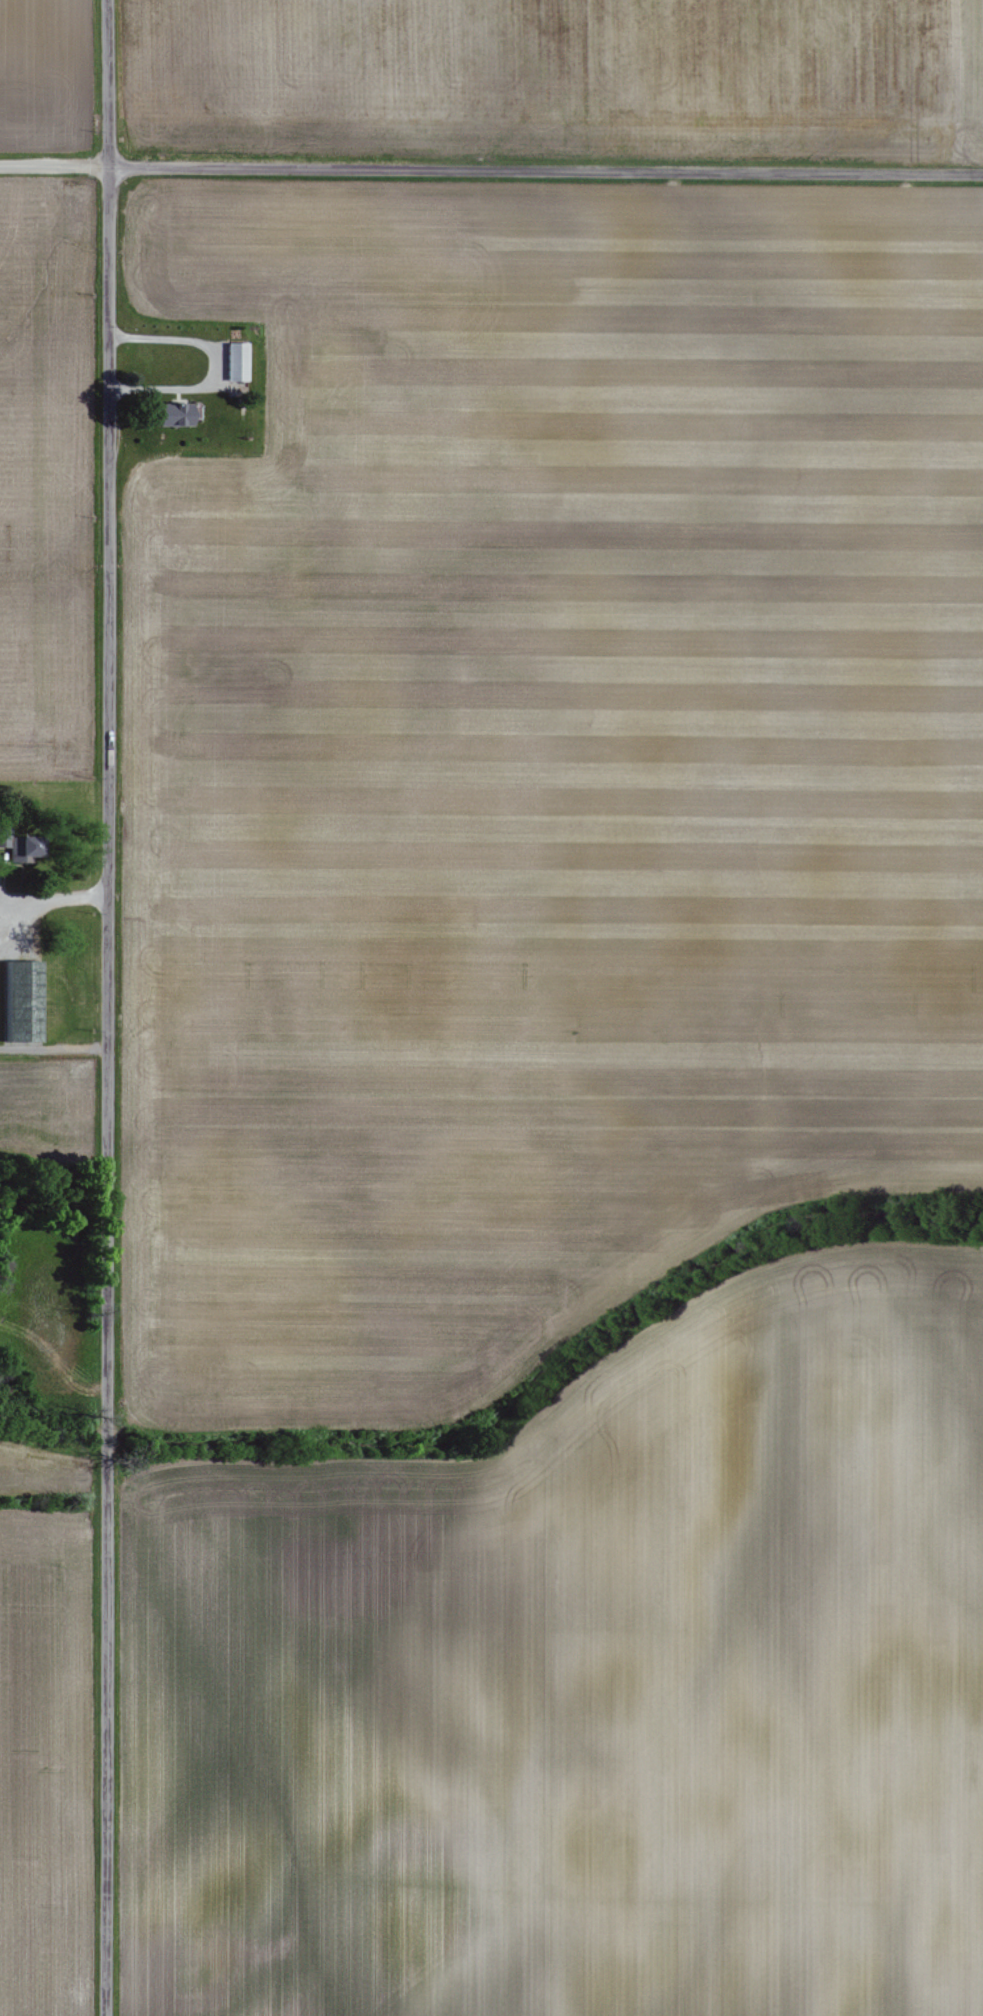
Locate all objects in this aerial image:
road: (57, 164)
road: (548, 174)
building: (237, 361)
road: (214, 364)
building: (176, 415)
road: (48, 900)
road: (111, 1007)
road: (55, 1045)

